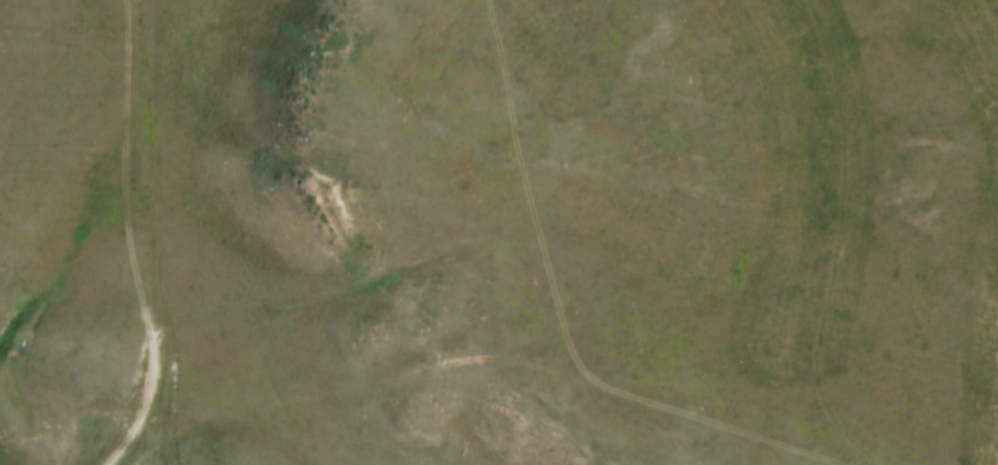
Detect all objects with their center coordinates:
road: (132, 238)
road: (497, 355)

